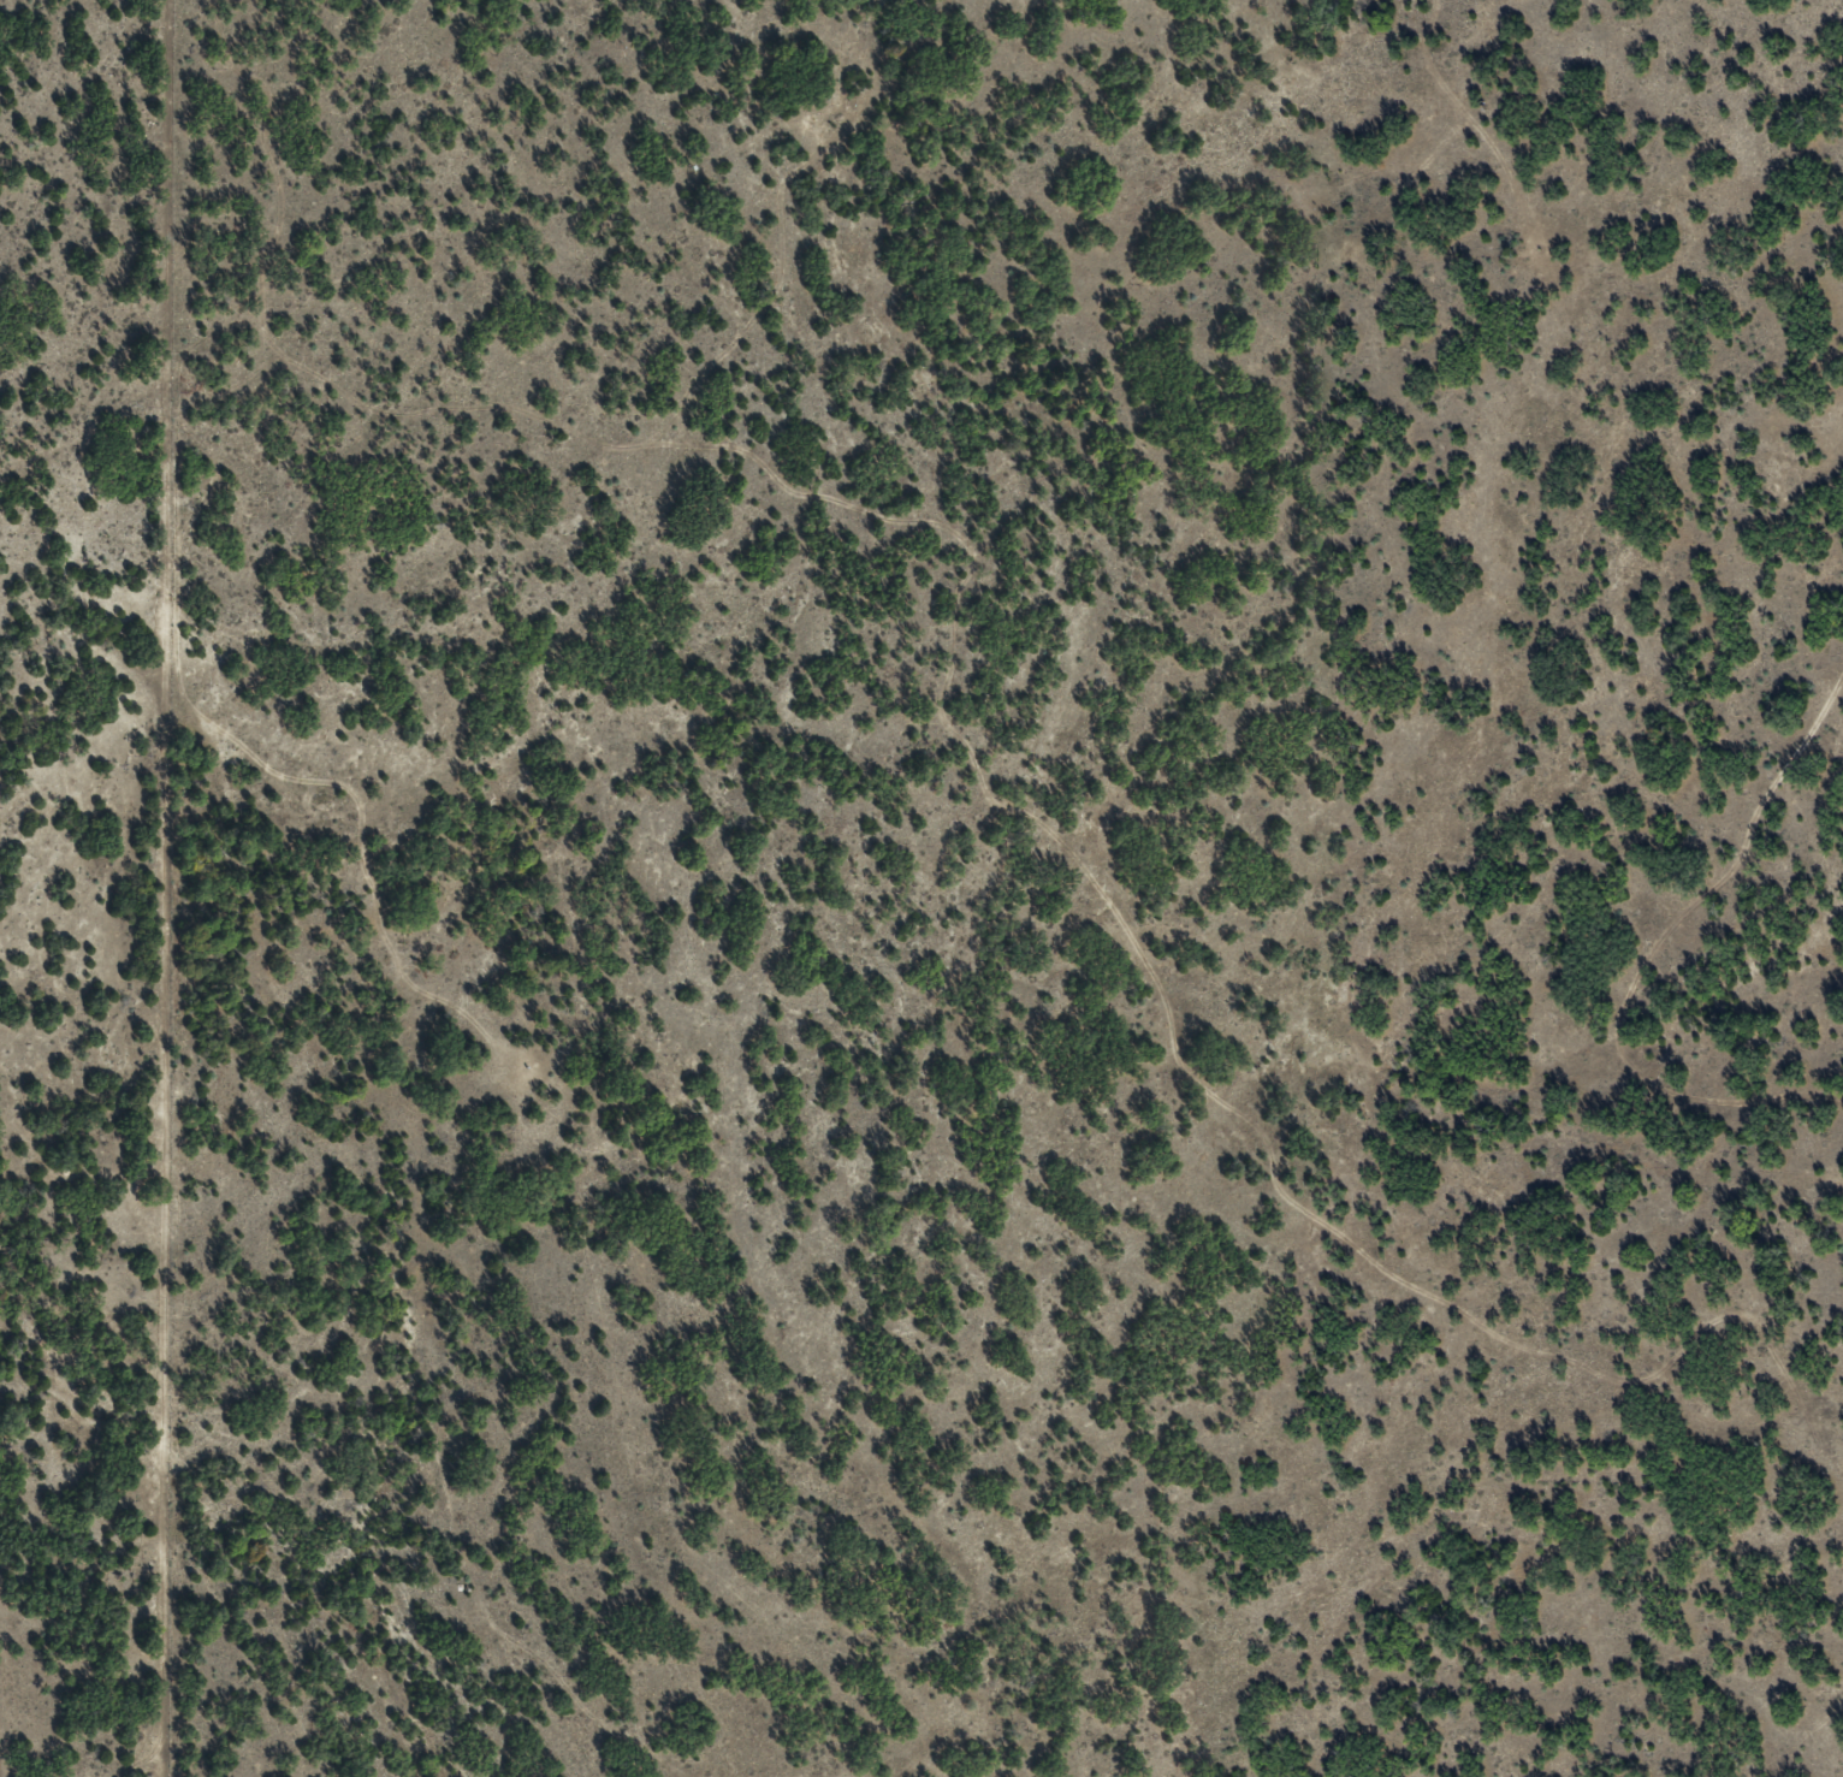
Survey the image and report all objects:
road: (1682, 926)

